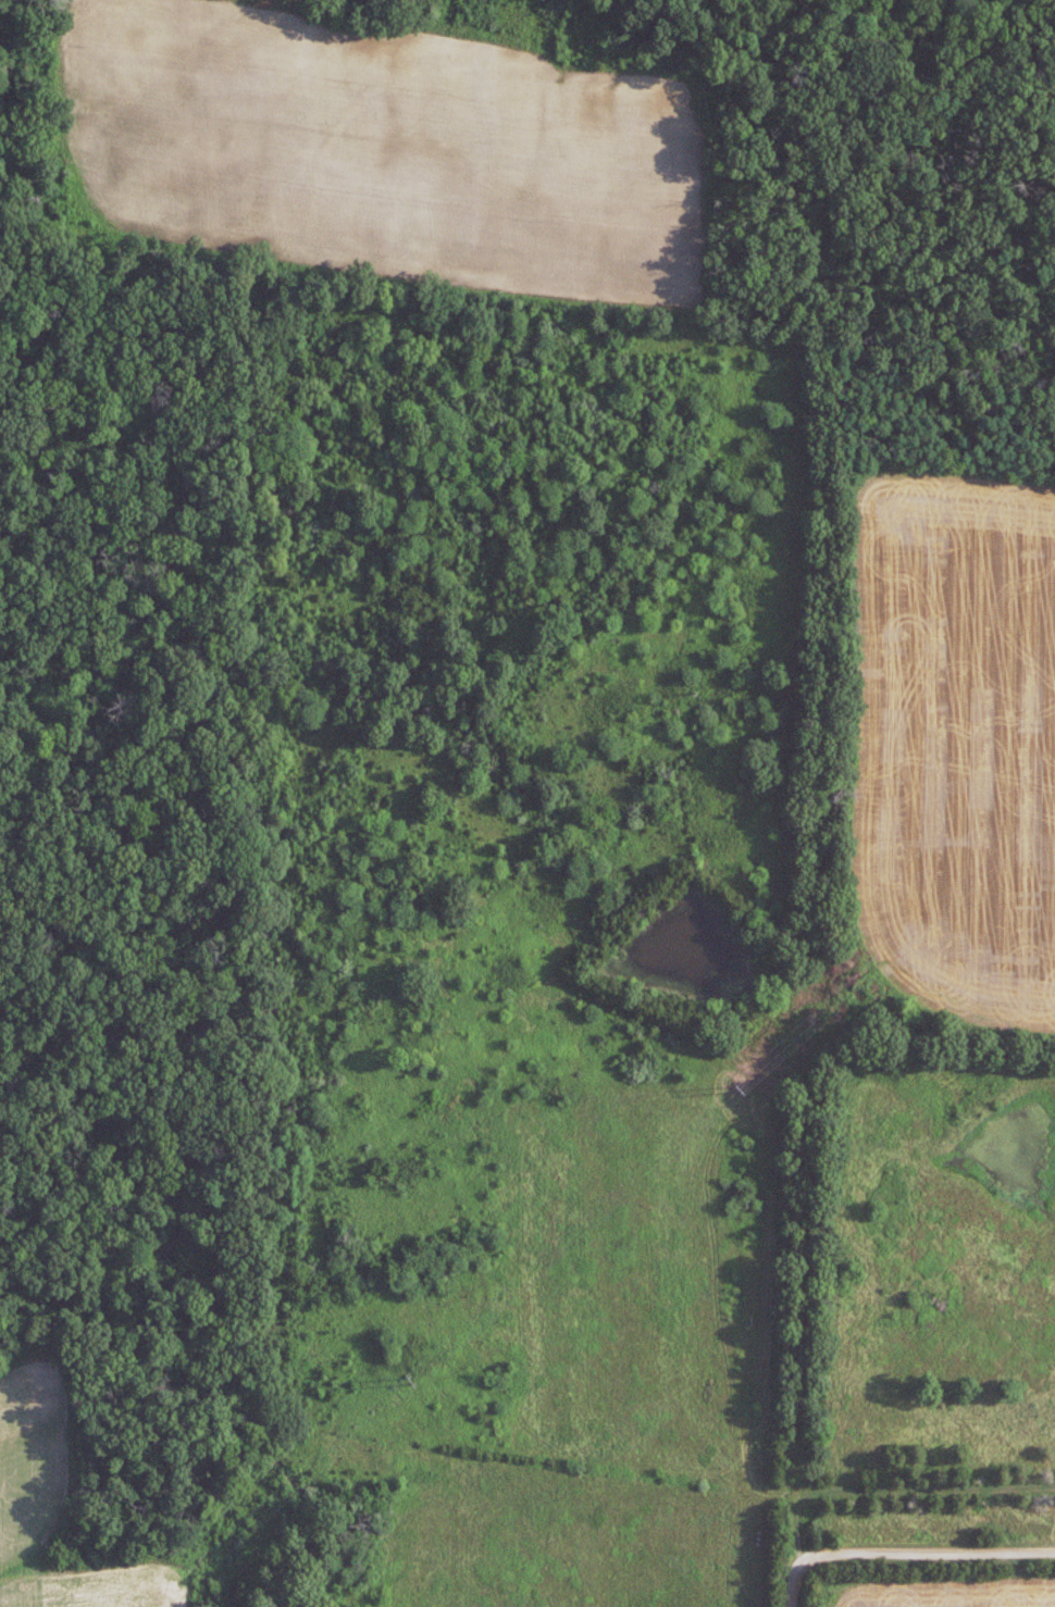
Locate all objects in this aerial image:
road: (924, 1556)
road: (792, 1583)

